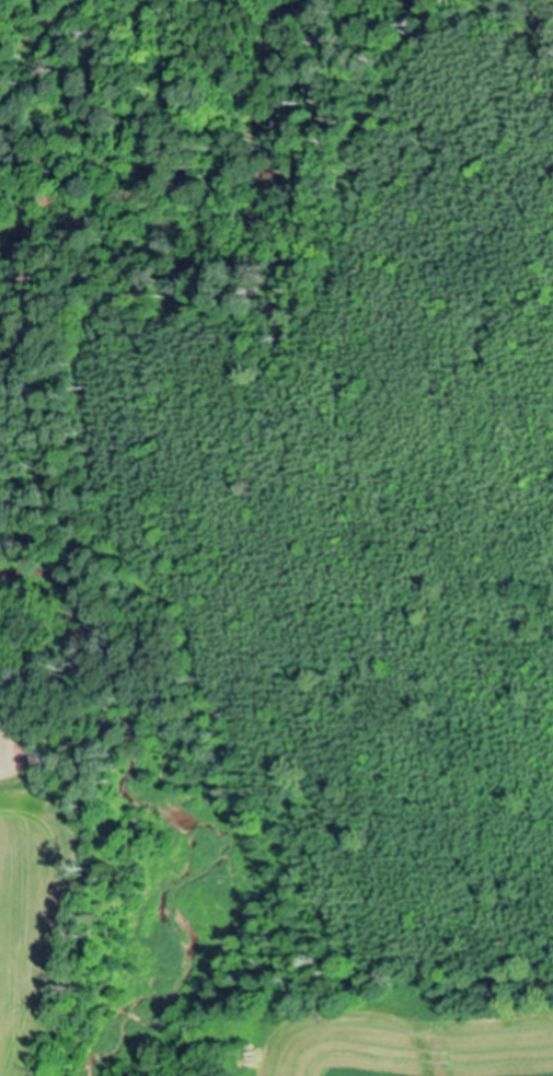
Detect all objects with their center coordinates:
crop: (20, 911)
crop: (404, 1043)

